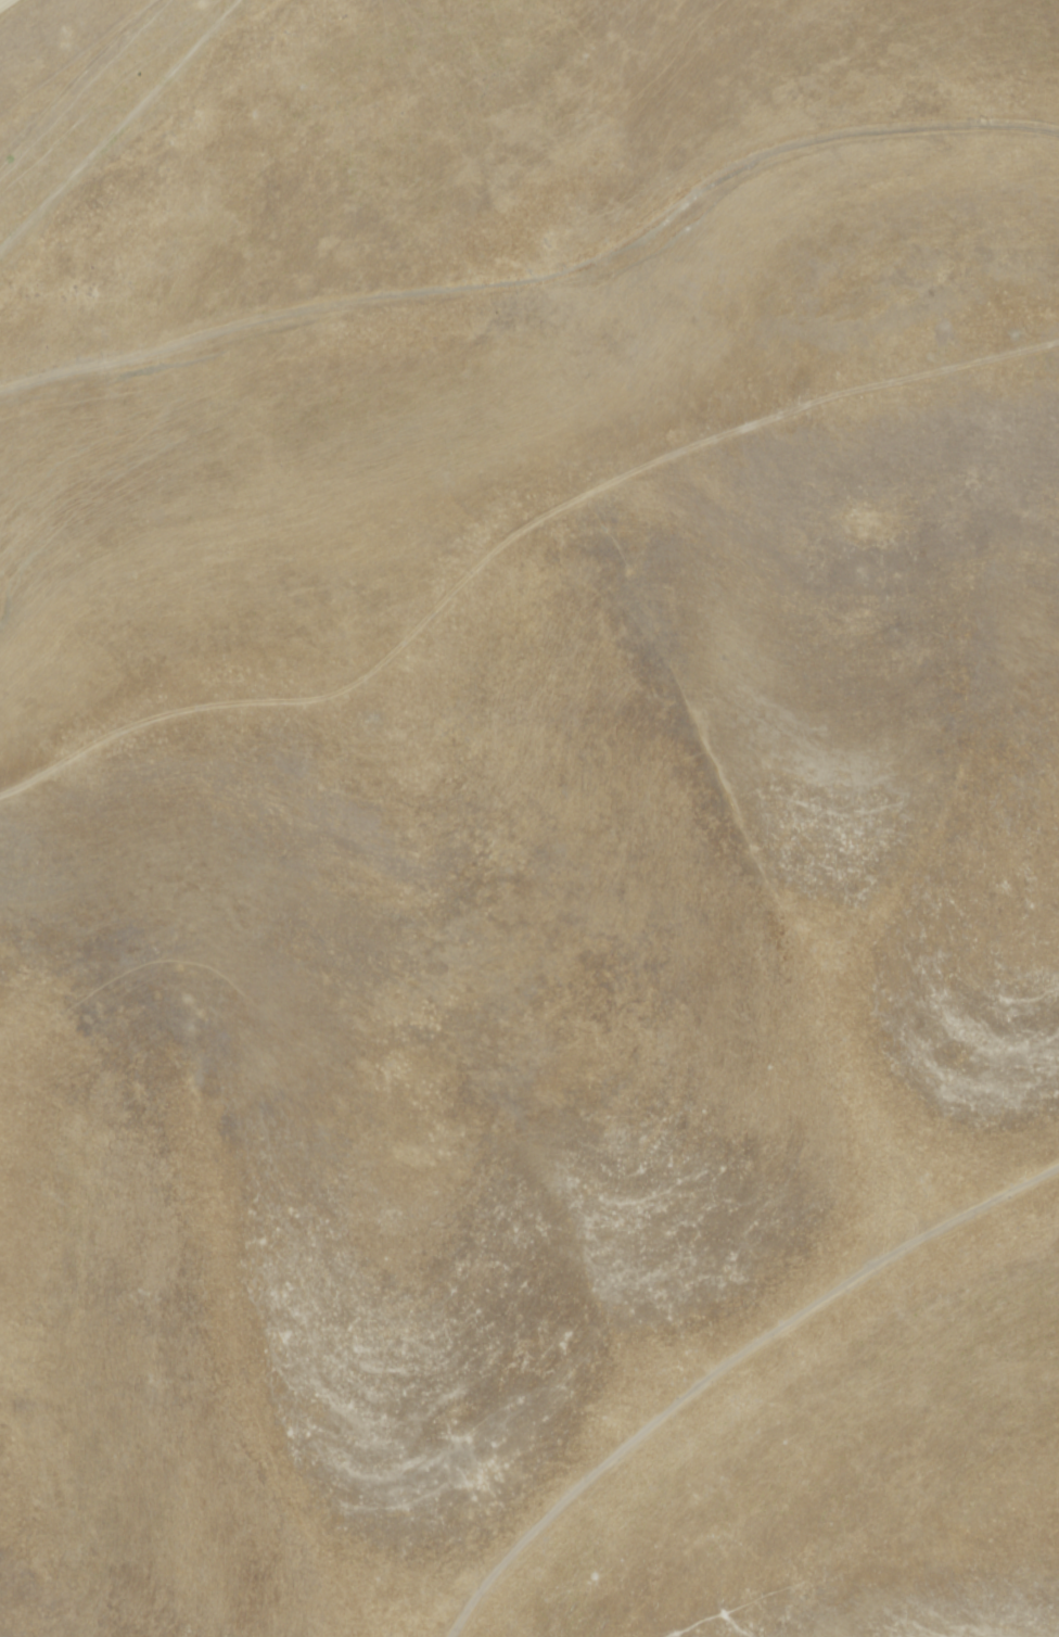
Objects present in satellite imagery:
road: (1, 0)
road: (74, 56)
road: (119, 124)
road: (543, 280)
road: (724, 1363)

